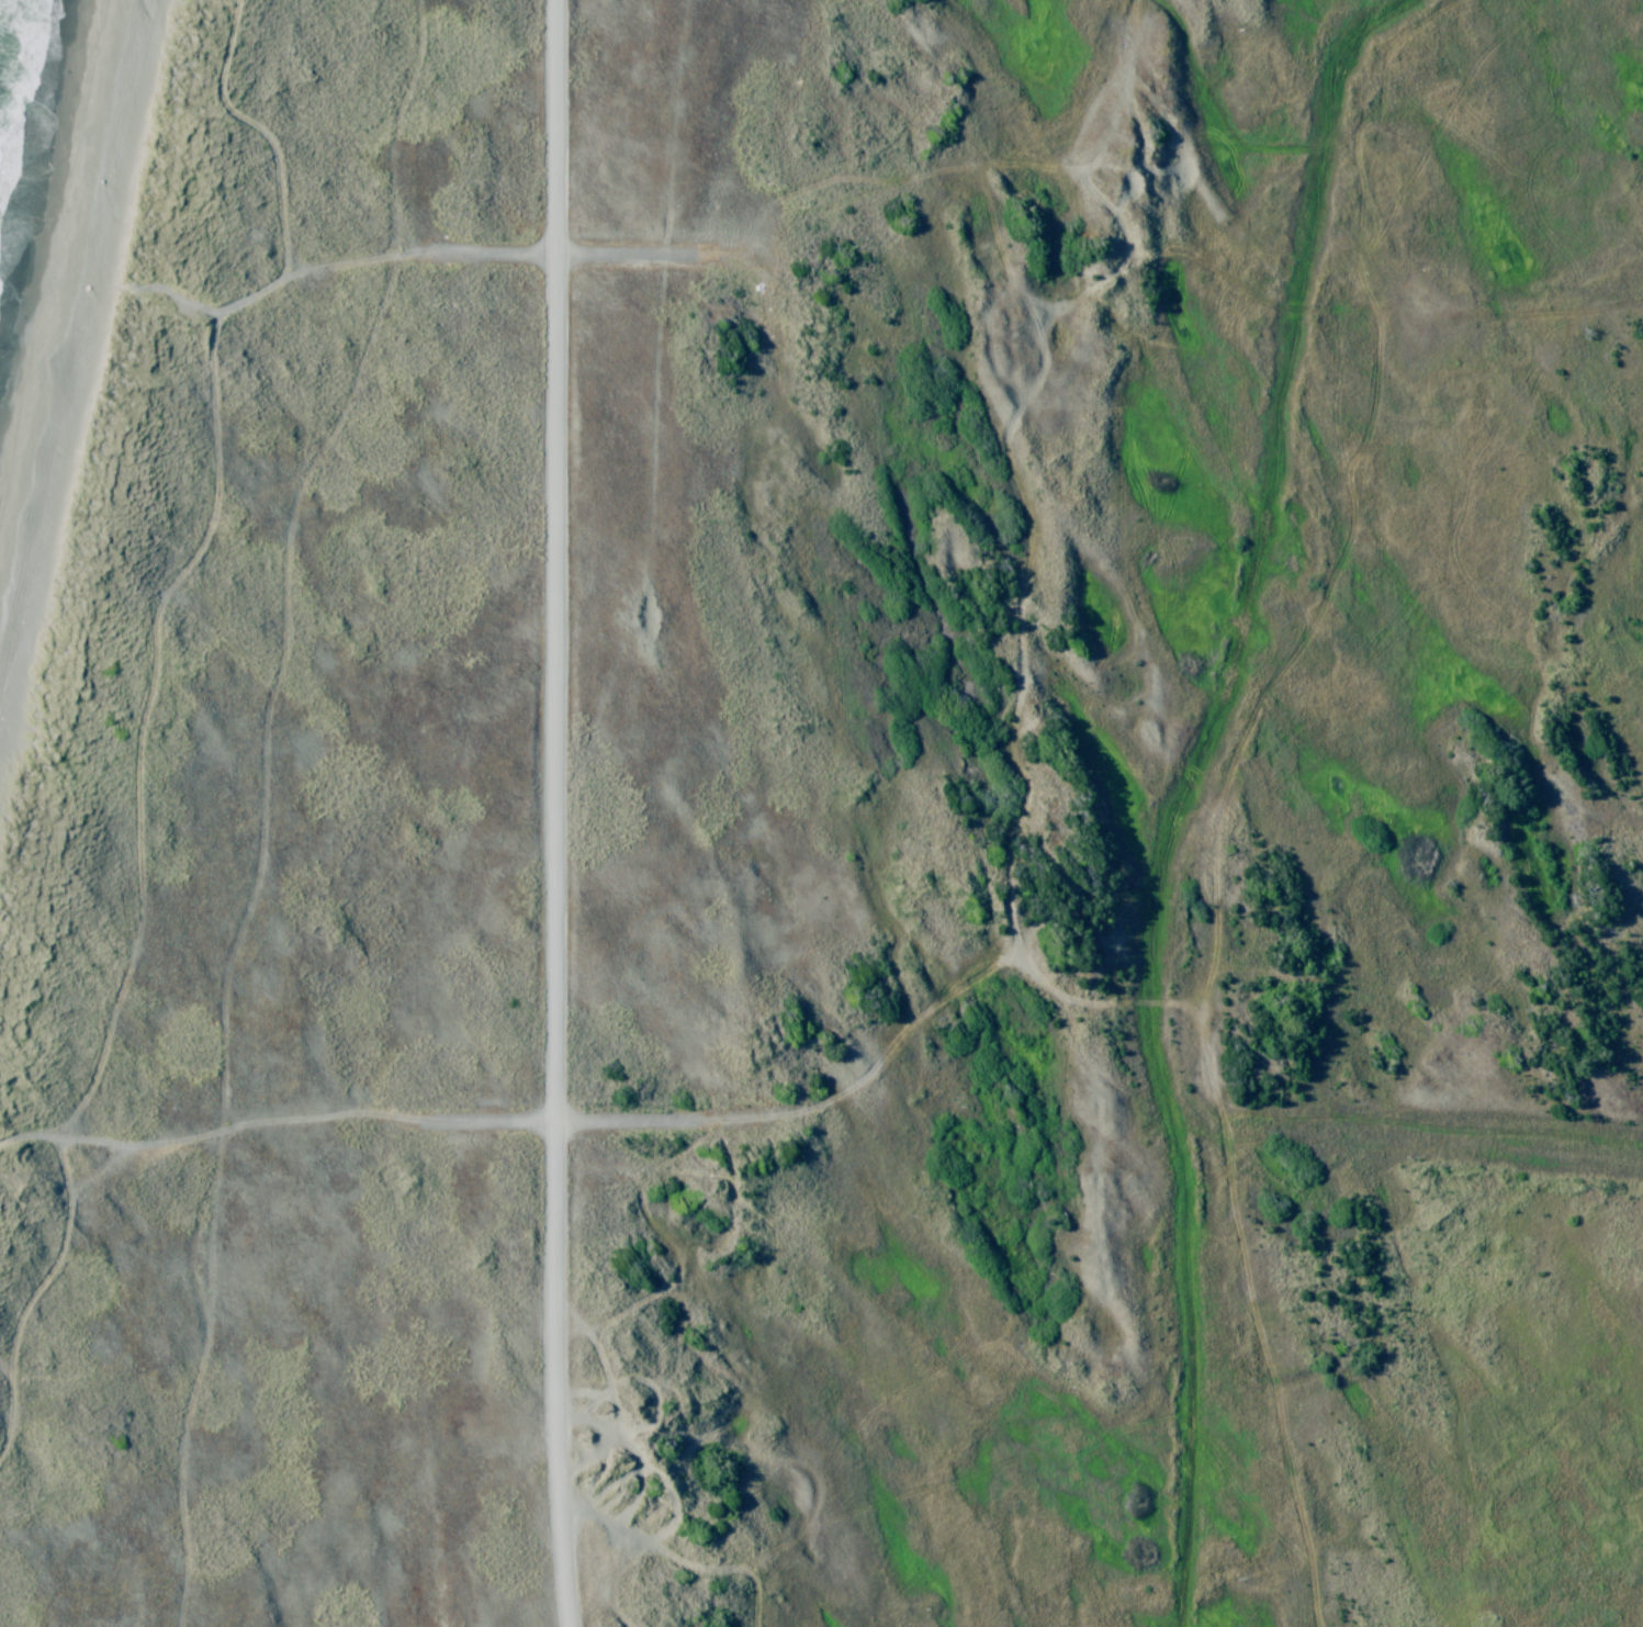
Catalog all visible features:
road: (146, 697)
road: (559, 813)

